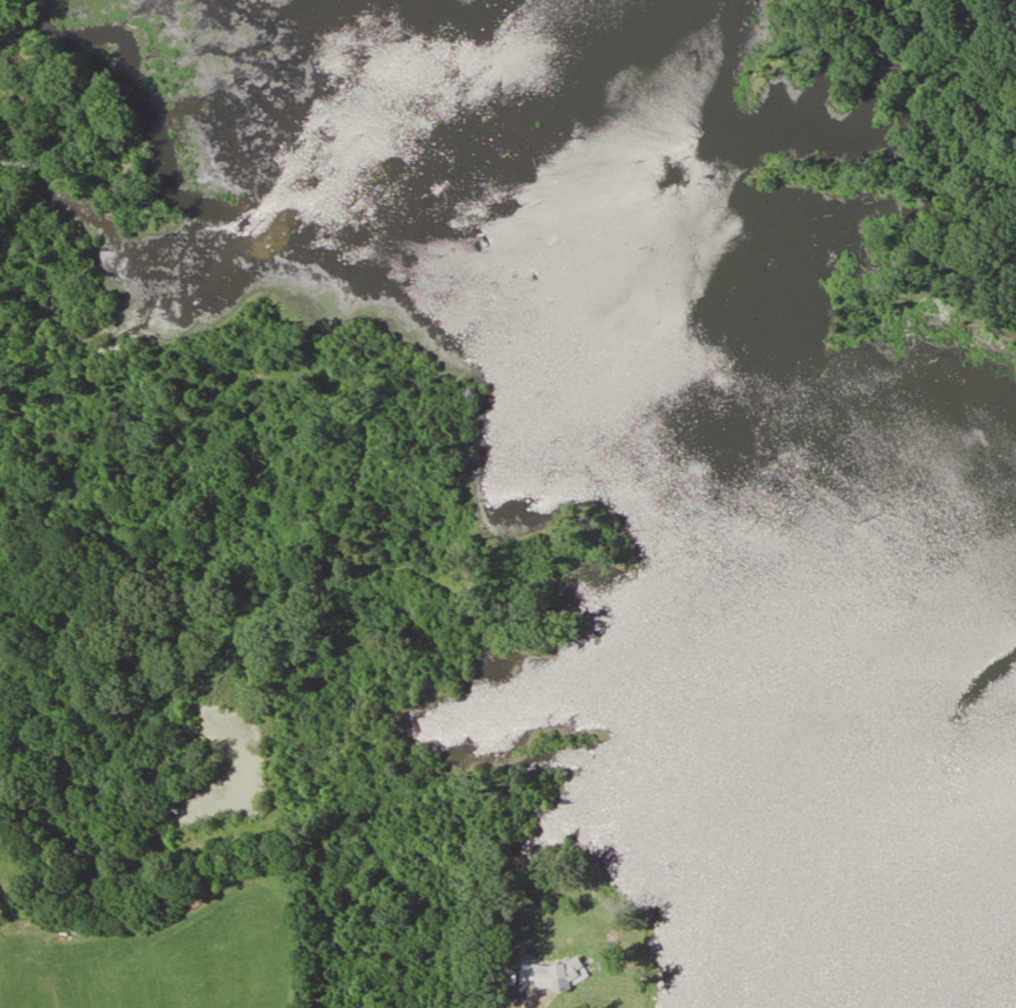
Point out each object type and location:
building: (1, 660)
road: (34, 941)
building: (561, 974)

